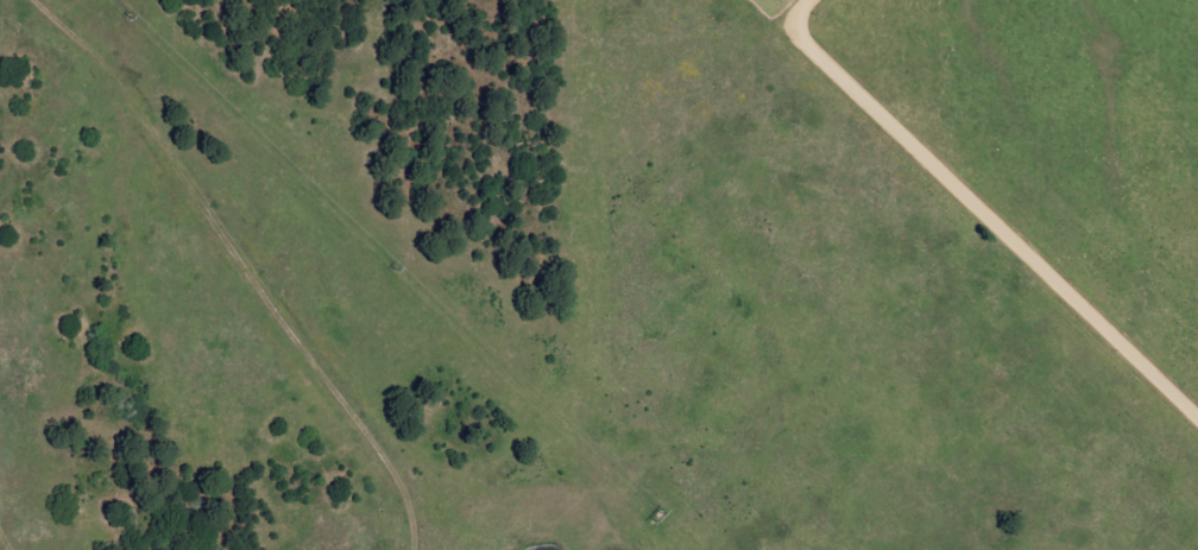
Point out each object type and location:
power tower: (108, 10)
road: (985, 214)
road: (241, 263)
power tower: (382, 263)
power tower: (649, 513)

